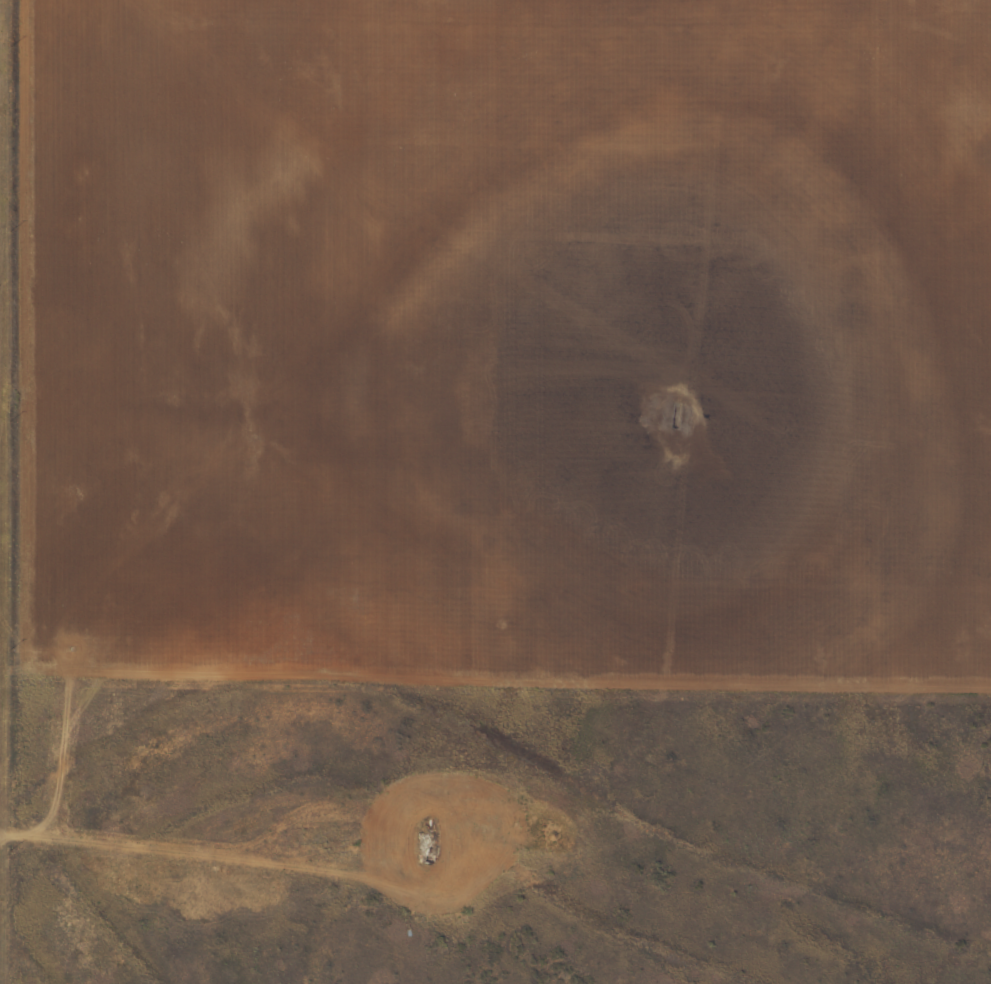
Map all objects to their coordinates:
building: (425, 849)

